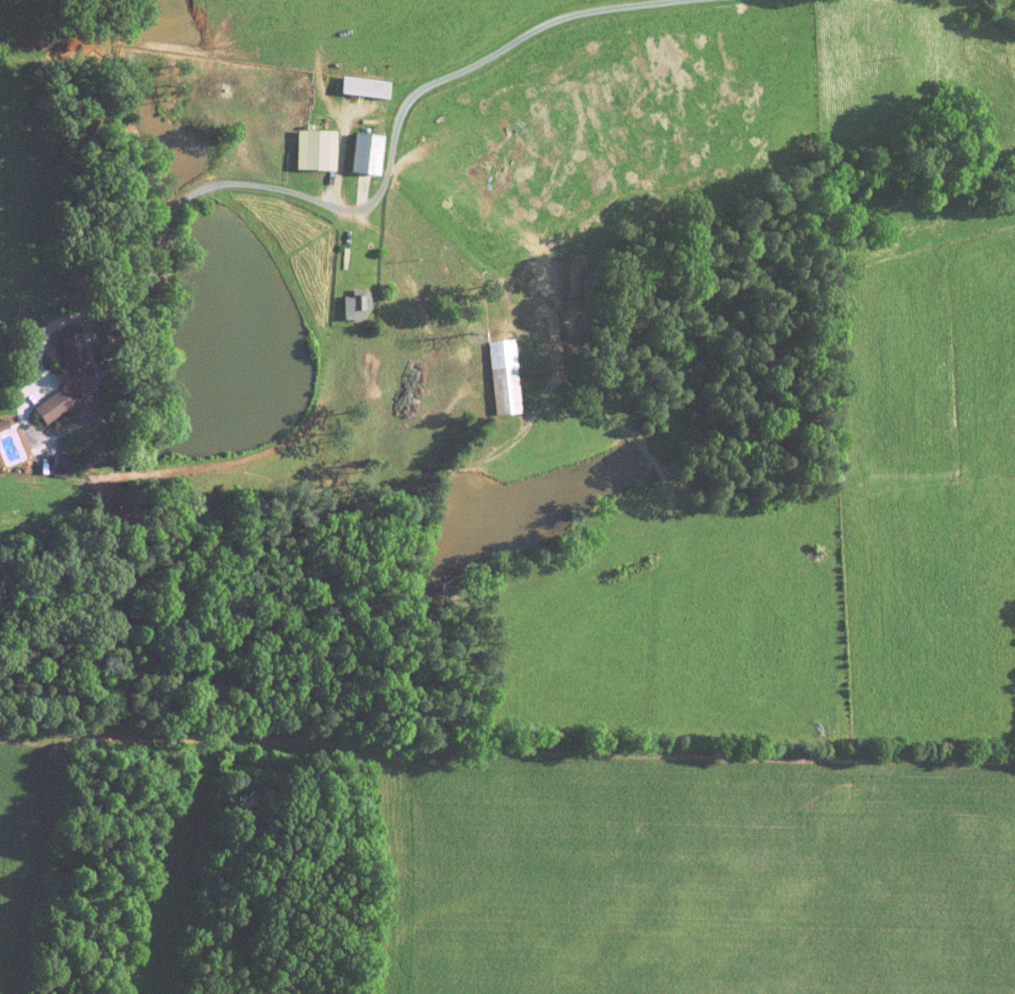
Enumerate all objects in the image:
building: (362, 86)
building: (314, 149)
road: (342, 152)
building: (364, 153)
road: (381, 190)
building: (353, 303)
road: (37, 342)
building: (63, 376)
building: (503, 376)
building: (2, 423)
building: (57, 467)

